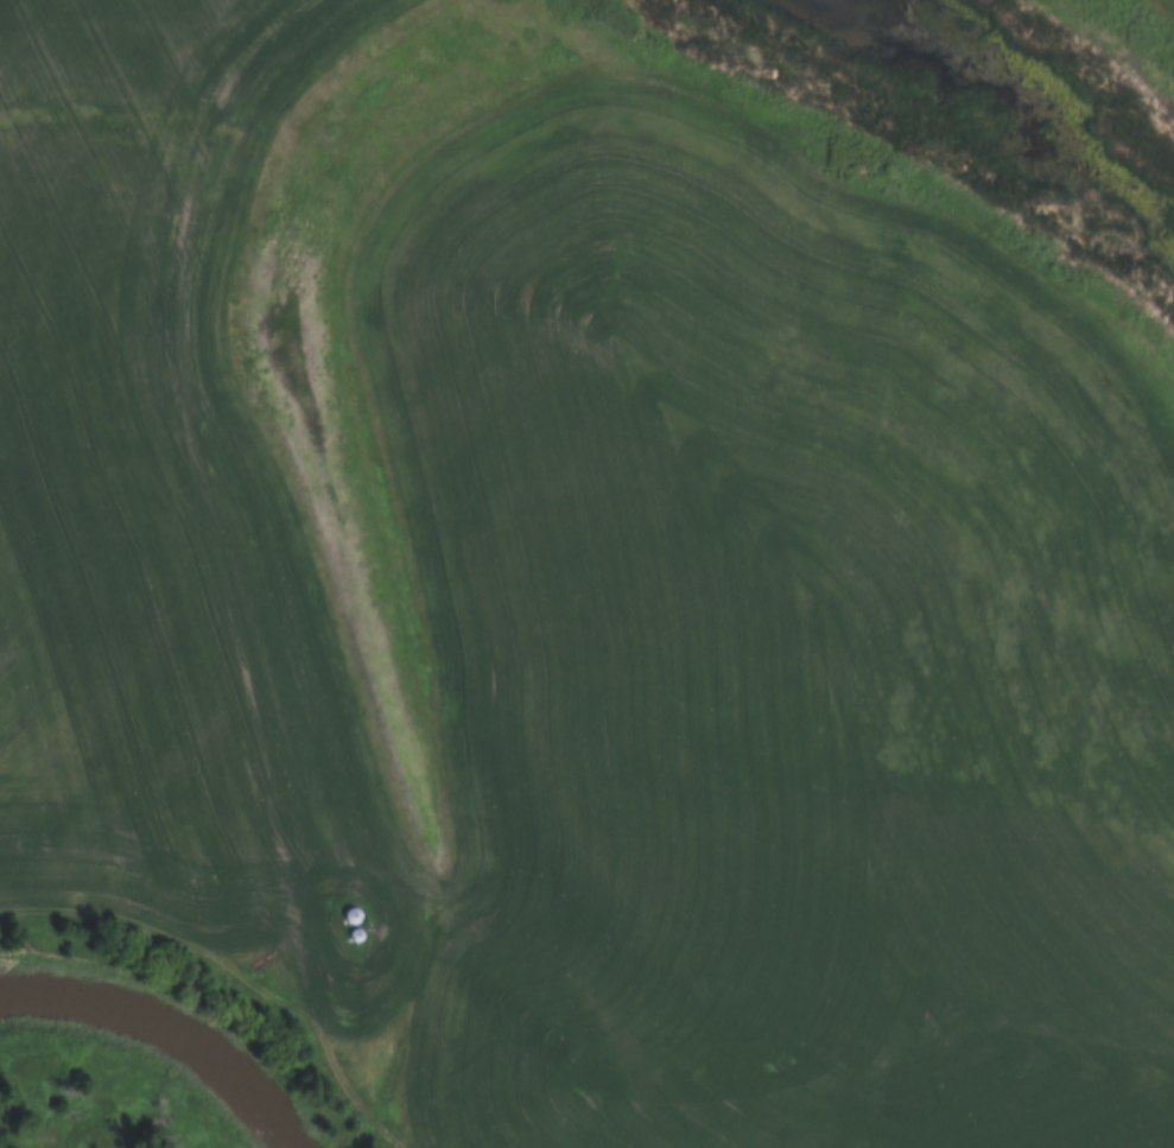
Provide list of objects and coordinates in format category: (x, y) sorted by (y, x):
road: (223, 571)
building: (602, 639)
building: (349, 917)
river: (161, 1030)

